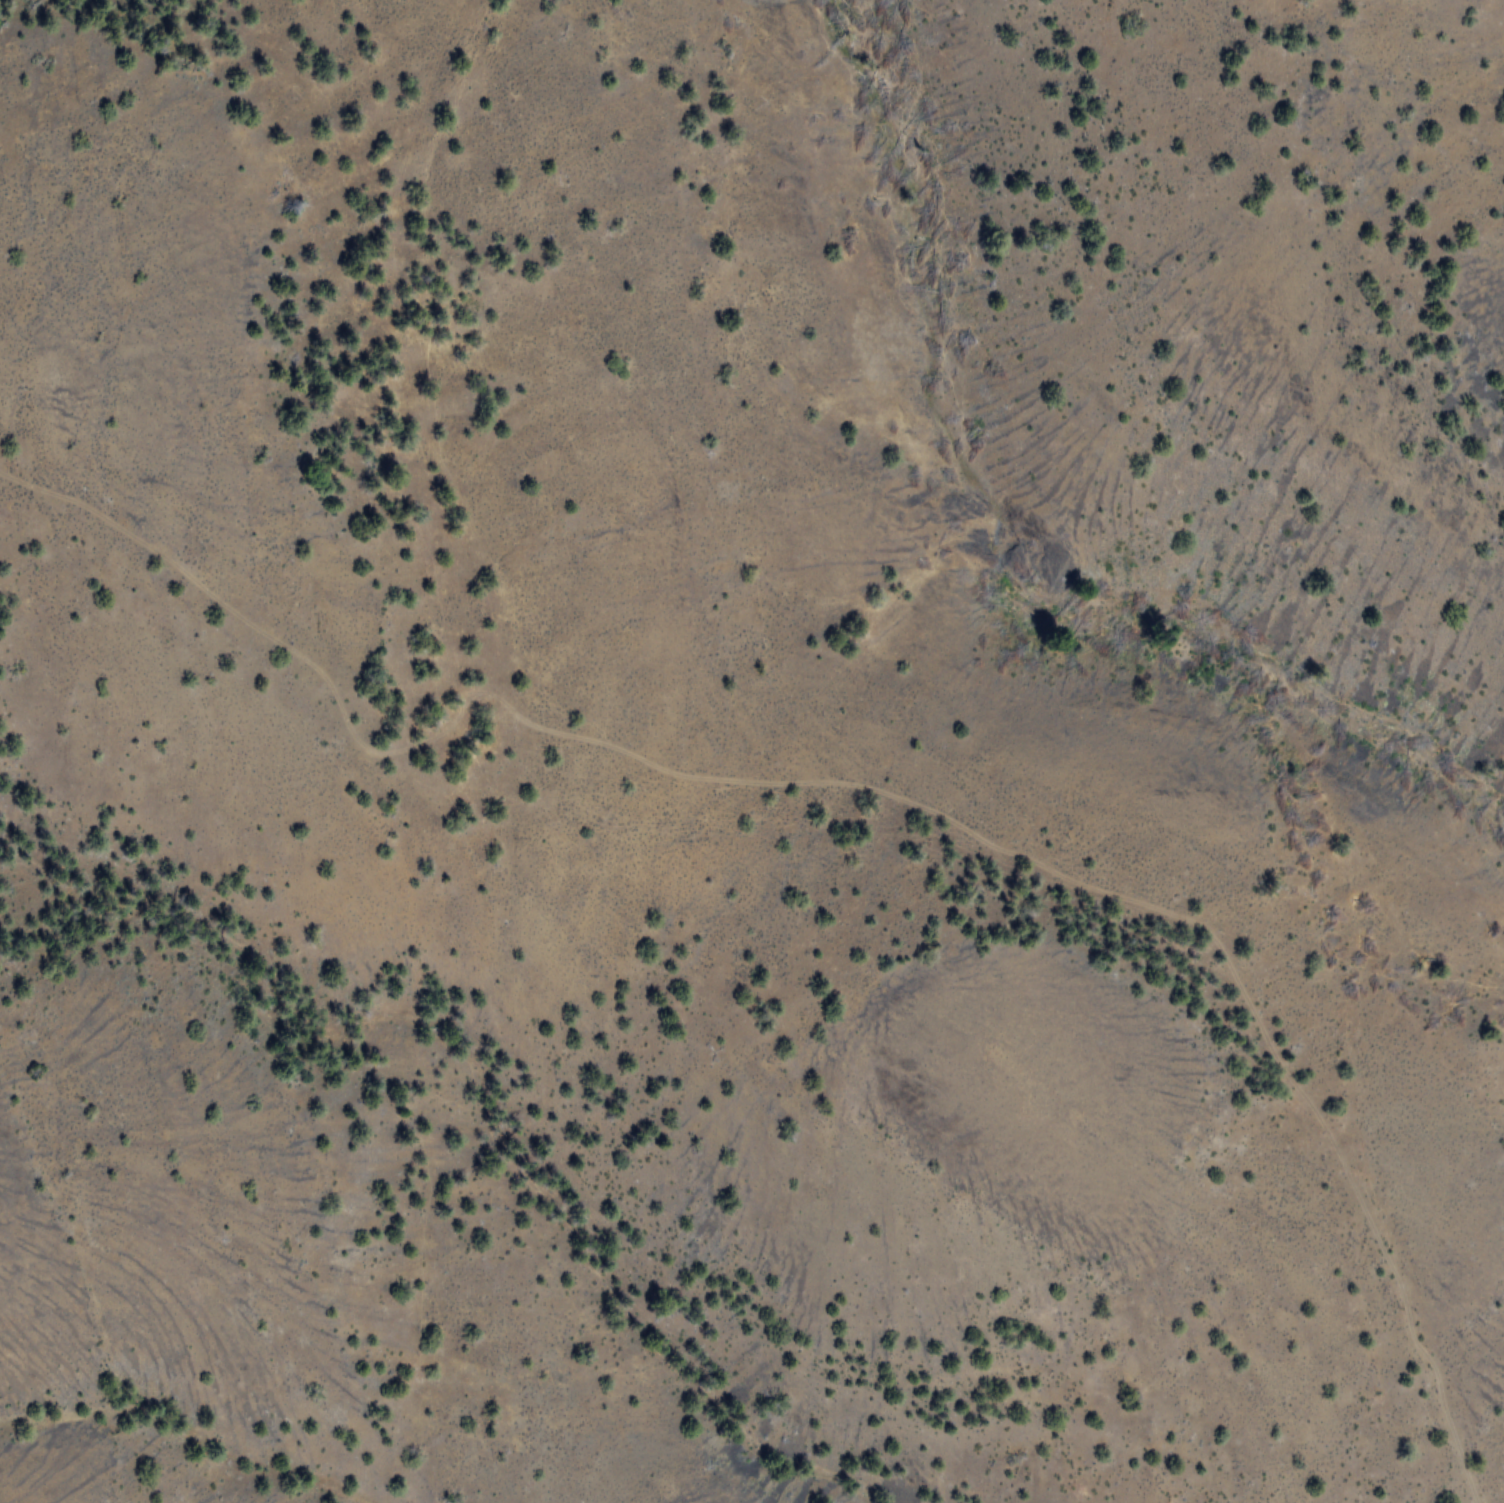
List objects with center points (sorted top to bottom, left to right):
road: (867, 787)

